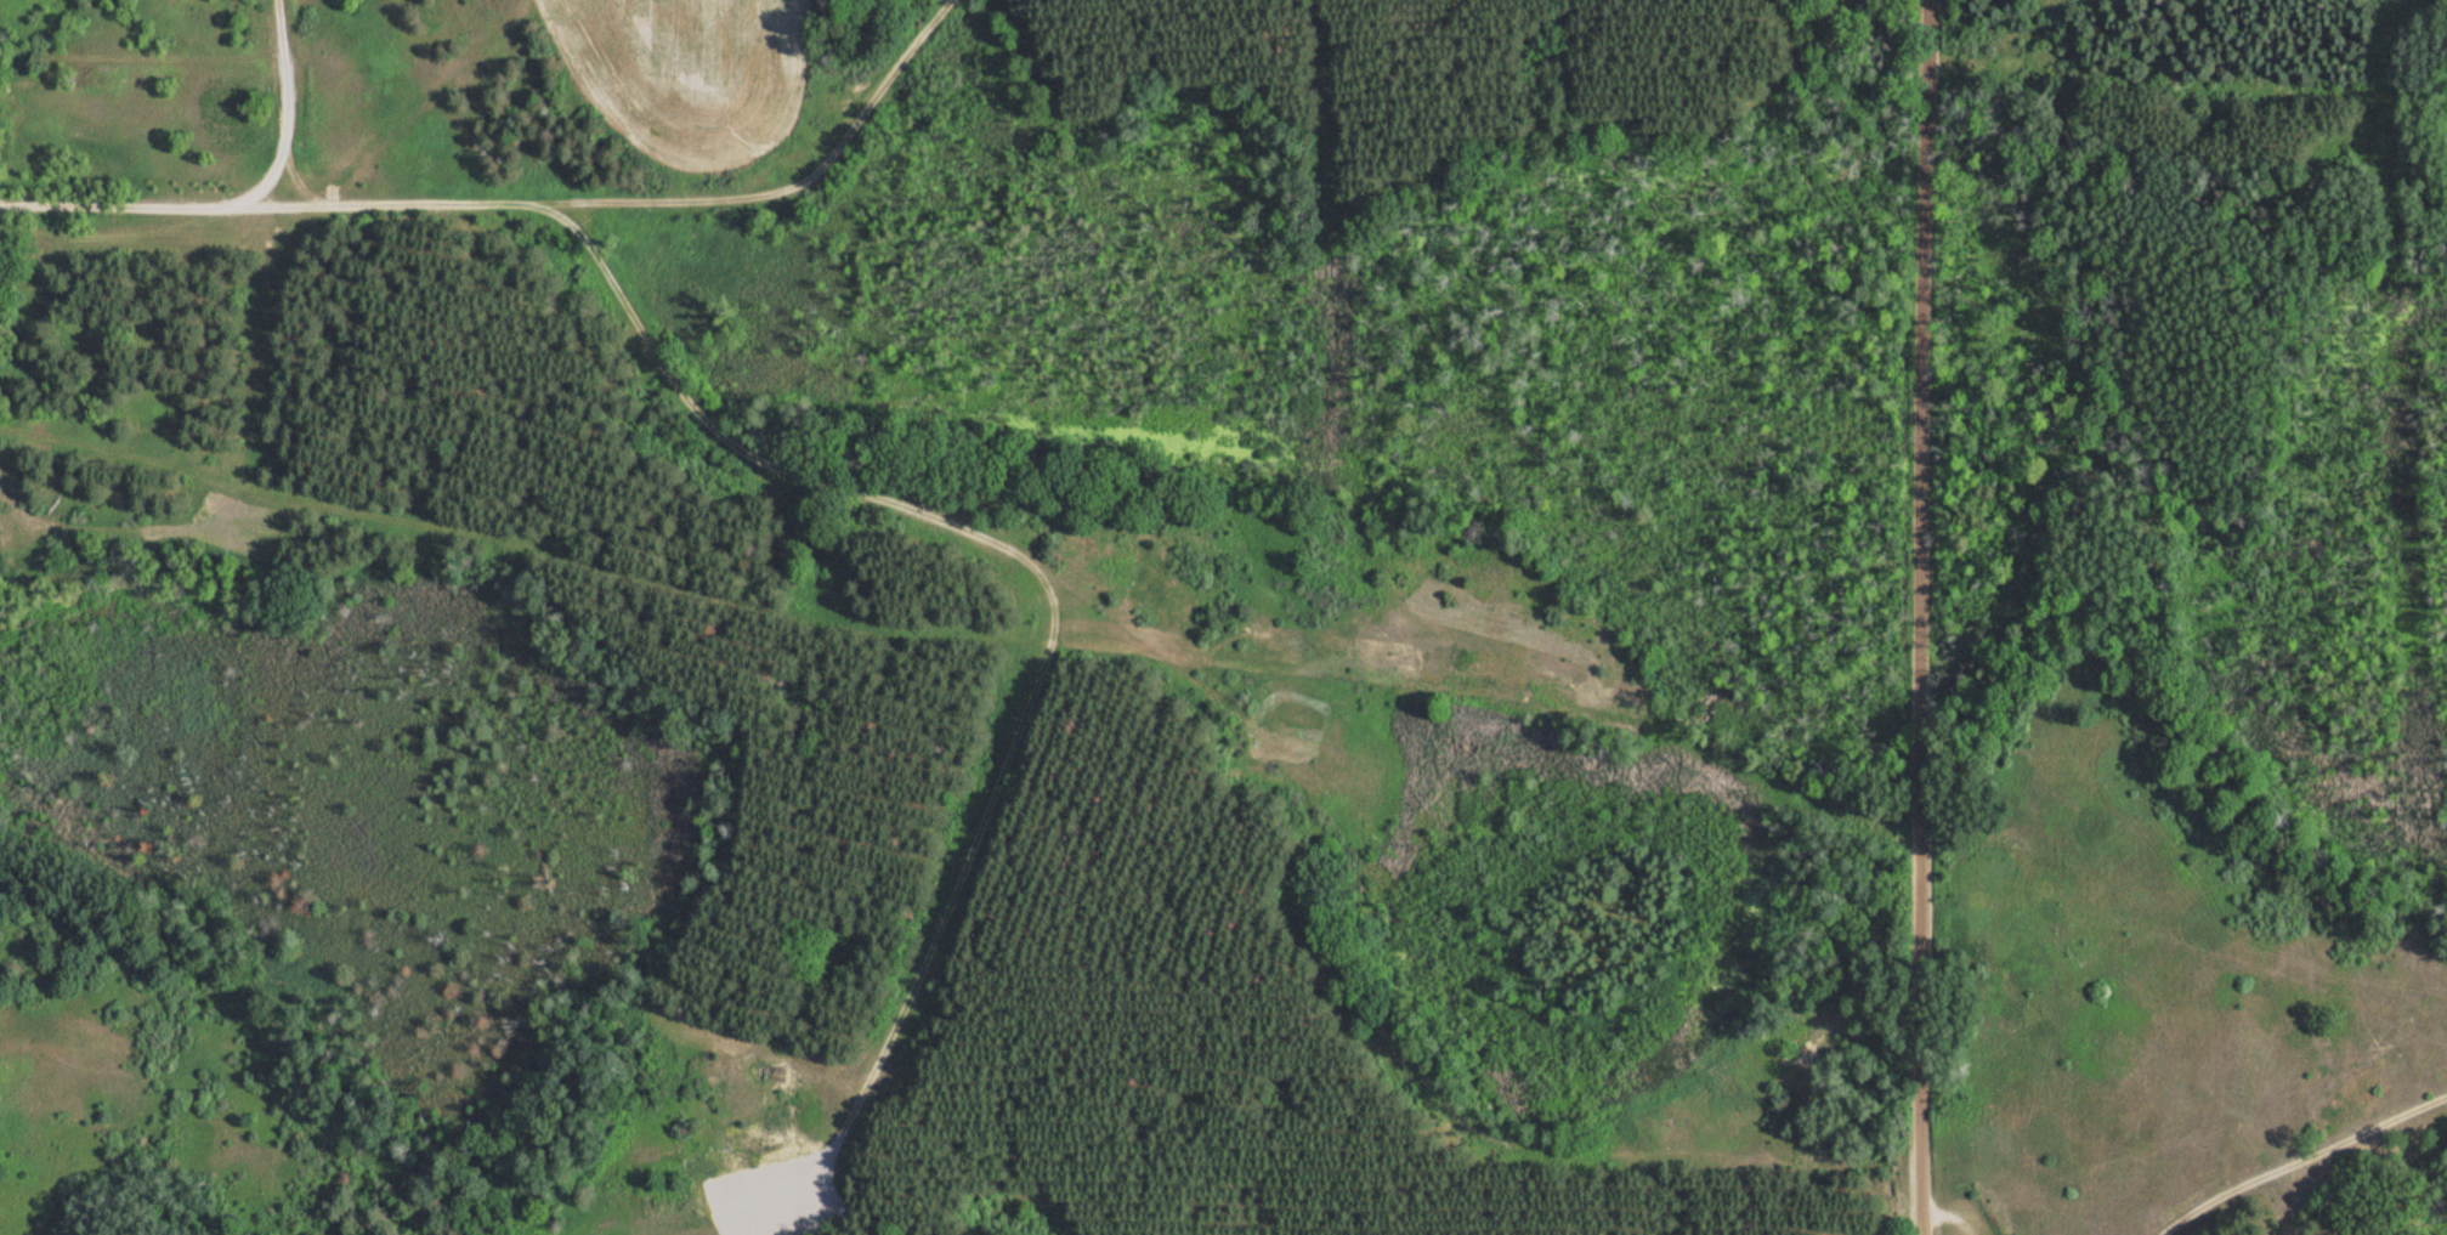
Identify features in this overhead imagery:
road: (283, 130)
road: (855, 143)
road: (619, 198)
road: (97, 204)
road: (70, 532)
road: (1927, 617)
road: (1304, 793)

